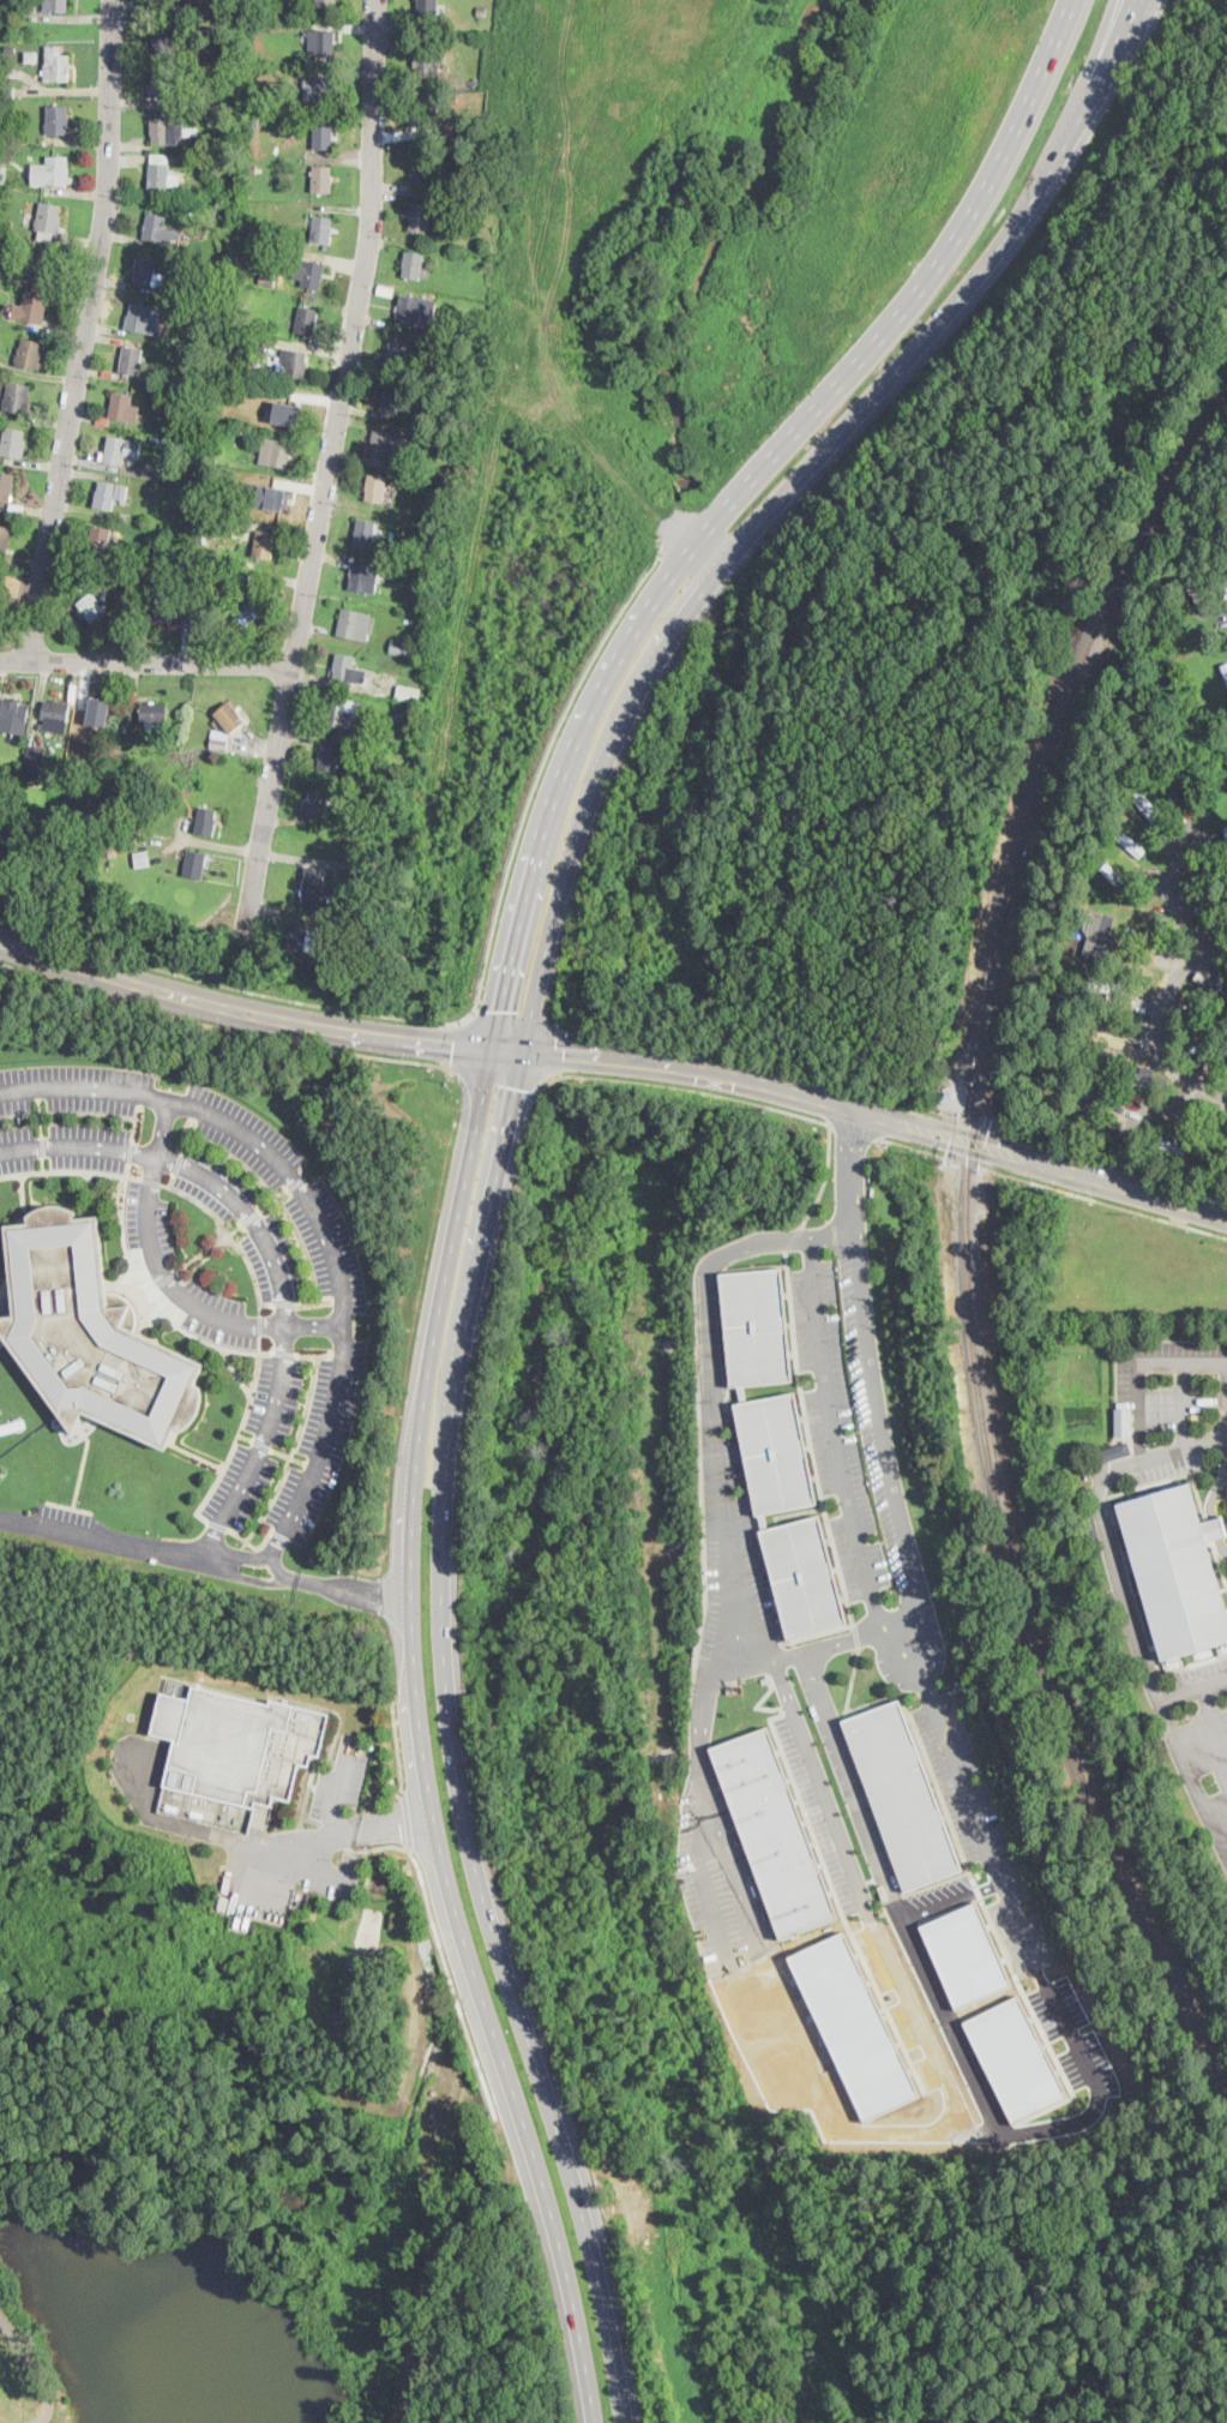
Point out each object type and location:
building: (169, 2)
building: (325, 2)
building: (29, 4)
building: (55, 6)
building: (202, 8)
building: (428, 12)
building: (481, 12)
building: (237, 23)
building: (269, 25)
building: (164, 41)
building: (325, 43)
building: (10, 49)
building: (31, 55)
building: (56, 64)
building: (428, 64)
building: (7, 72)
building: (167, 84)
building: (321, 88)
building: (7, 91)
building: (253, 103)
building: (252, 118)
building: (423, 118)
building: (58, 120)
building: (169, 131)
building: (7, 134)
building: (324, 137)
building: (158, 158)
building: (249, 168)
building: (50, 172)
building: (2, 173)
building: (422, 173)
building: (162, 178)
building: (321, 179)
building: (211, 191)
building: (197, 197)
building: (49, 218)
building: (421, 218)
building: (156, 228)
building: (323, 230)
building: (44, 236)
building: (139, 244)
building: (42, 264)
building: (413, 264)
building: (313, 271)
building: (149, 272)
building: (270, 274)
building: (385, 290)
building: (30, 308)
building: (190, 310)
building: (416, 311)
building: (144, 319)
building: (307, 320)
road: (88, 332)
building: (29, 354)
building: (396, 355)
building: (133, 362)
building: (295, 362)
building: (264, 372)
building: (118, 376)
building: (0, 389)
building: (18, 398)
building: (393, 400)
building: (187, 401)
building: (124, 408)
building: (290, 409)
building: (103, 420)
building: (432, 438)
building: (156, 439)
building: (13, 443)
building: (390, 445)
building: (121, 449)
building: (276, 452)
building: (450, 452)
building: (409, 456)
building: (207, 457)
road: (329, 469)
building: (6, 487)
building: (375, 488)
building: (109, 494)
building: (434, 498)
railway: (1156, 502)
building: (228, 524)
building: (366, 534)
building: (4, 539)
building: (102, 541)
building: (265, 545)
building: (142, 557)
building: (134, 564)
building: (361, 576)
building: (1226, 594)
building: (1199, 598)
park: (10, 601)
building: (175, 606)
building: (245, 606)
building: (92, 608)
building: (127, 612)
building: (355, 625)
building: (411, 647)
building: (416, 661)
road: (146, 664)
building: (1225, 668)
building: (348, 670)
building: (409, 695)
building: (97, 712)
building: (338, 712)
building: (154, 713)
building: (14, 715)
building: (56, 716)
building: (225, 725)
building: (124, 727)
building: (389, 734)
building: (329, 757)
building: (34, 763)
building: (399, 785)
building: (318, 800)
building: (1147, 804)
building: (134, 812)
building: (206, 821)
building: (1226, 833)
building: (131, 840)
building: (1130, 841)
building: (143, 860)
building: (194, 864)
building: (1121, 883)
building: (314, 888)
road: (1175, 900)
building: (1216, 922)
building: (305, 937)
building: (1100, 937)
building: (1101, 985)
building: (1211, 986)
road: (476, 1001)
traffic signals: (503, 1009)
road: (511, 1019)
road: (1163, 1019)
building: (1210, 1022)
building: (1105, 1026)
road: (225, 1030)
traffic signals: (452, 1045)
road: (457, 1045)
building: (1197, 1045)
road: (559, 1050)
building: (1099, 1051)
traffic signals: (564, 1054)
road: (757, 1056)
road: (616, 1058)
road: (500, 1078)
building: (1150, 1080)
road: (675, 1085)
traffic signals: (518, 1087)
building: (1084, 1091)
road: (1162, 1106)
building: (1078, 1116)
road: (969, 1117)
road: (854, 1128)
road: (507, 1133)
building: (1209, 1138)
road: (475, 1140)
road: (914, 1146)
building: (1169, 1148)
road: (1105, 1157)
road: (963, 1160)
road: (826, 1175)
road: (1101, 1200)
road: (318, 1219)
road: (794, 1236)
road: (273, 1260)
road: (166, 1279)
building: (757, 1323)
building: (90, 1333)
road: (1139, 1366)
railway: (973, 1372)
road: (871, 1378)
road: (1186, 1403)
building: (1123, 1420)
road: (1185, 1445)
building: (774, 1450)
building: (1113, 1450)
road: (837, 1457)
road: (718, 1459)
road: (817, 1474)
building: (1114, 1521)
building: (1090, 1525)
road: (206, 1559)
road: (1111, 1559)
building: (1175, 1569)
building: (804, 1576)
road: (855, 1635)
road: (852, 1678)
road: (1213, 1716)
road: (1175, 1741)
building: (242, 1746)
road: (397, 1747)
road: (819, 1780)
road: (703, 1786)
building: (902, 1794)
road: (966, 1812)
road: (407, 1817)
road: (197, 1830)
building: (774, 1830)
road: (335, 1831)
road: (305, 1860)
road: (944, 1903)
road: (443, 1951)
building: (970, 1951)
road: (936, 2014)
building: (855, 2022)
building: (1021, 2055)
park: (173, 2169)
road: (42, 2363)

